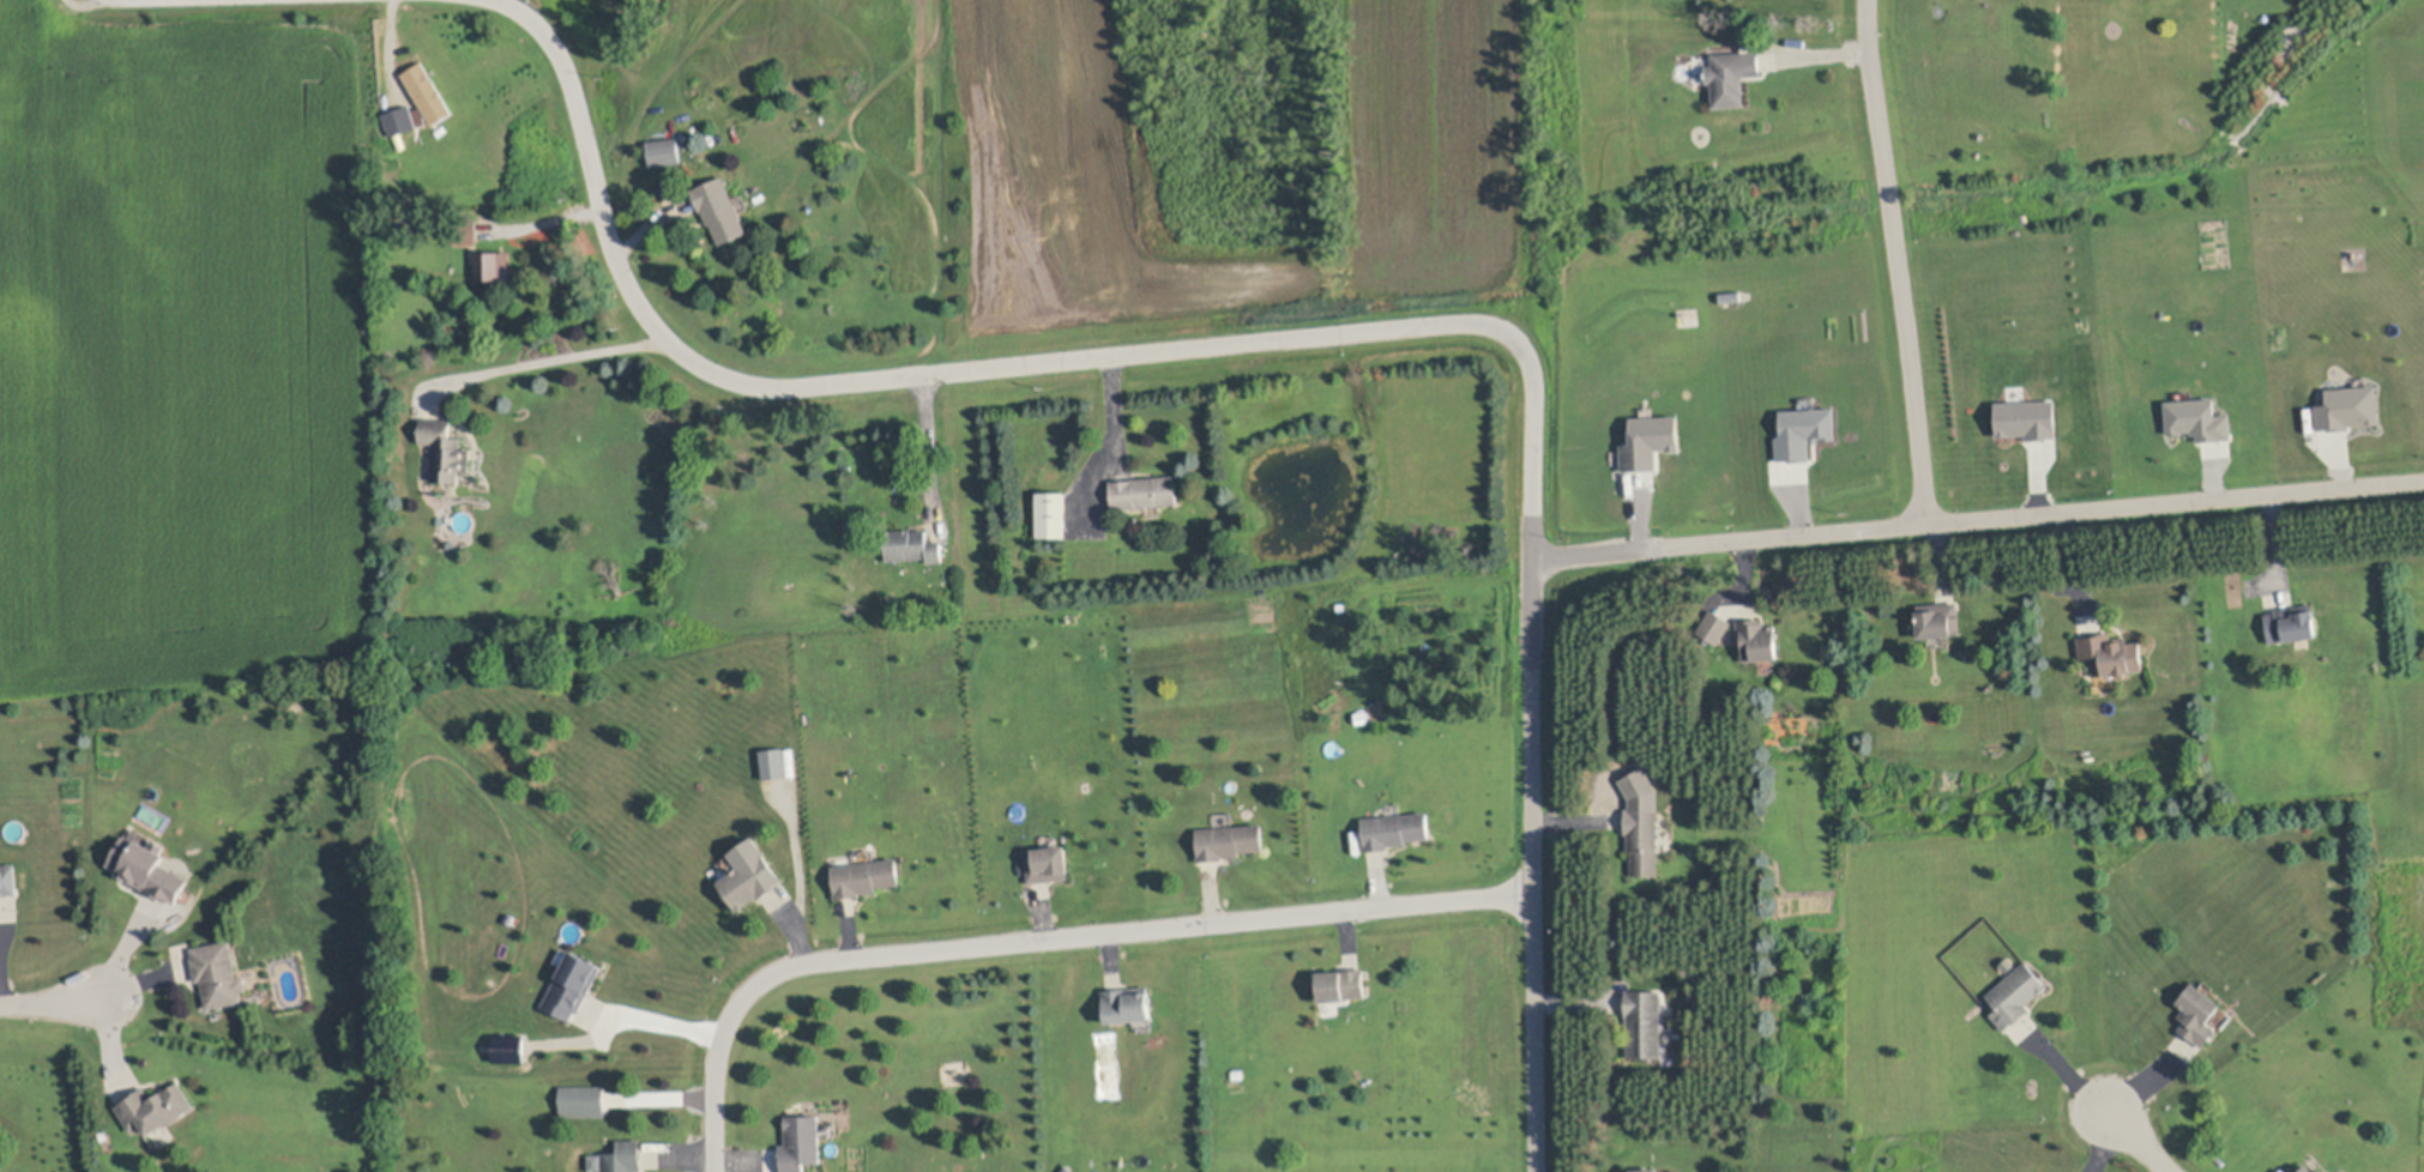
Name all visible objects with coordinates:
road: (512, 1)
building: (1741, 36)
building: (1731, 74)
building: (428, 92)
building: (400, 121)
building: (664, 149)
building: (720, 209)
building: (465, 230)
road: (1897, 260)
building: (493, 264)
road: (1307, 339)
road: (542, 366)
building: (2352, 410)
building: (2030, 421)
building: (2201, 421)
building: (1807, 434)
building: (1652, 443)
building: (445, 449)
building: (1144, 490)
building: (1053, 513)
road: (1980, 516)
building: (912, 544)
building: (1937, 618)
building: (2292, 622)
building: (1714, 624)
building: (1757, 639)
building: (2110, 652)
building: (774, 762)
building: (1395, 828)
building: (1642, 838)
building: (1229, 840)
building: (1048, 863)
building: (147, 868)
building: (749, 874)
building: (864, 876)
building: (8, 878)
building: (511, 918)
road: (1041, 938)
building: (218, 973)
building: (572, 984)
building: (1341, 984)
building: (2015, 993)
road: (52, 999)
building: (1127, 1003)
building: (2199, 1014)
building: (1644, 1022)
building: (511, 1050)
building: (584, 1100)
building: (155, 1107)
building: (802, 1142)
road: (2136, 1143)
building: (623, 1156)
building: (595, 1161)
building: (2307, 1168)
building: (1645, 1170)

